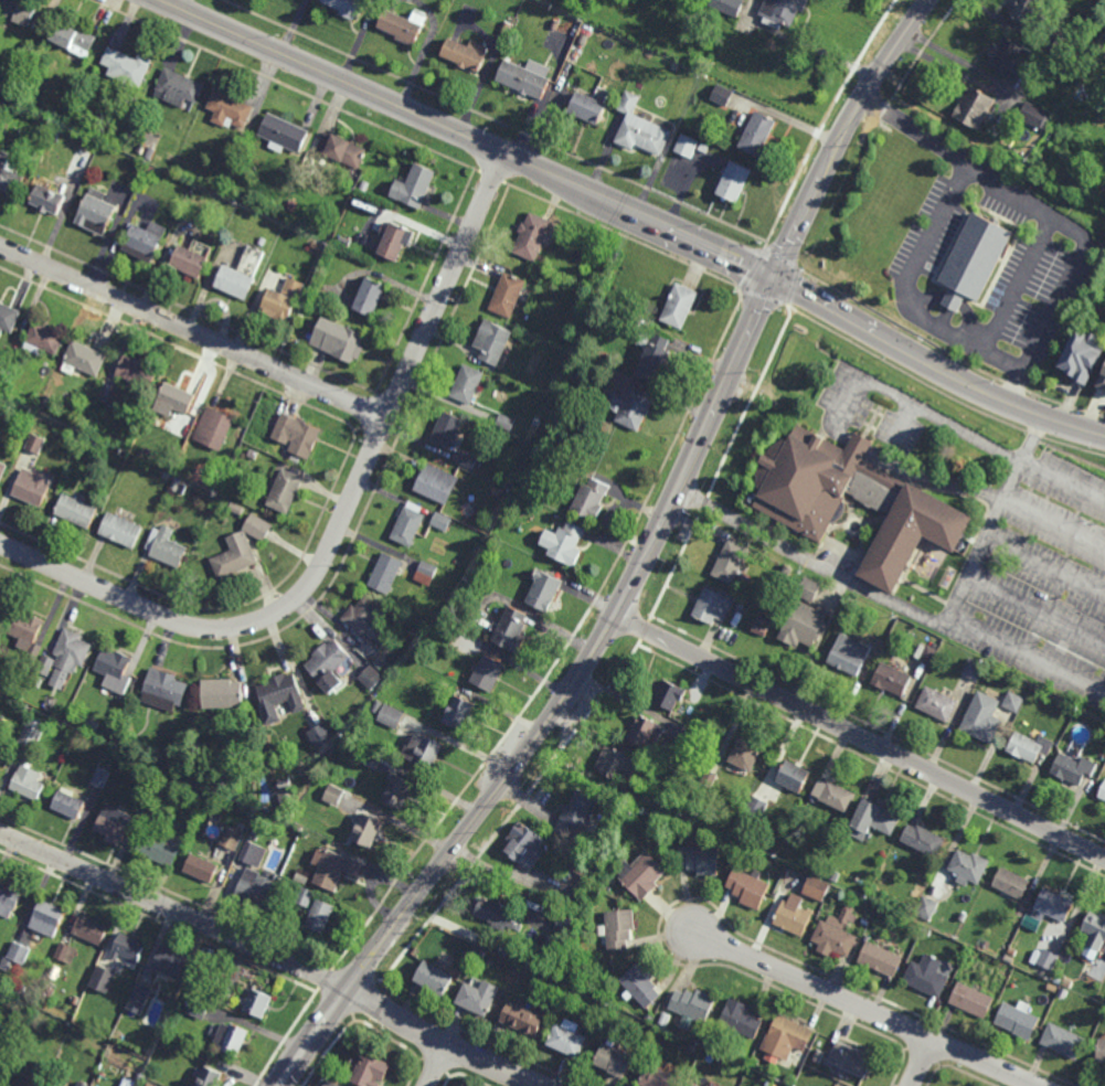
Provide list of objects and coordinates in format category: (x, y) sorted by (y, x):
building: (730, 6)
building: (348, 7)
building: (19, 11)
building: (784, 12)
building: (1030, 13)
building: (1095, 17)
building: (555, 24)
building: (403, 25)
building: (506, 28)
building: (74, 39)
building: (585, 40)
road: (894, 47)
building: (1063, 47)
building: (465, 54)
building: (1009, 57)
building: (126, 66)
building: (527, 78)
building: (178, 87)
road: (995, 87)
building: (13, 96)
building: (723, 96)
building: (975, 108)
building: (229, 109)
building: (588, 109)
building: (1034, 116)
building: (640, 126)
building: (283, 134)
building: (759, 135)
building: (691, 147)
building: (141, 149)
building: (340, 150)
building: (149, 156)
building: (295, 168)
building: (151, 169)
building: (10, 177)
building: (736, 183)
building: (363, 187)
building: (414, 187)
road: (585, 191)
building: (49, 200)
building: (290, 205)
building: (96, 212)
road: (1050, 215)
building: (532, 237)
building: (144, 241)
building: (262, 242)
building: (396, 243)
building: (316, 246)
building: (975, 260)
building: (189, 262)
building: (241, 275)
traffic signals: (774, 278)
road: (1018, 284)
road: (905, 289)
building: (314, 295)
building: (507, 296)
building: (371, 298)
road: (927, 299)
building: (283, 301)
road: (953, 302)
building: (680, 308)
building: (9, 319)
road: (970, 324)
road: (193, 332)
building: (45, 341)
building: (342, 343)
building: (491, 343)
building: (654, 356)
building: (1083, 356)
building: (86, 360)
building: (137, 374)
building: (1103, 382)
building: (466, 383)
building: (47, 398)
building: (173, 400)
building: (116, 402)
building: (631, 405)
road: (918, 407)
building: (26, 411)
building: (504, 420)
road: (1053, 420)
building: (214, 427)
building: (446, 429)
road: (838, 430)
building: (297, 434)
road: (1031, 440)
building: (35, 443)
building: (96, 444)
road: (859, 445)
building: (0, 449)
building: (536, 450)
building: (295, 459)
building: (465, 459)
building: (2, 469)
building: (164, 475)
road: (934, 479)
building: (436, 482)
road: (1062, 483)
building: (33, 486)
building: (180, 488)
building: (285, 490)
building: (591, 498)
building: (236, 508)
building: (797, 508)
building: (75, 511)
building: (442, 521)
building: (410, 523)
road: (1054, 523)
road: (339, 525)
building: (257, 526)
building: (119, 530)
building: (565, 542)
building: (164, 546)
building: (234, 561)
building: (731, 561)
road: (811, 561)
road: (1045, 567)
building: (386, 573)
building: (426, 573)
building: (489, 584)
building: (743, 584)
building: (810, 589)
building: (544, 590)
building: (0, 604)
building: (713, 605)
road: (1037, 608)
building: (362, 615)
building: (763, 616)
road: (949, 618)
road: (617, 620)
building: (806, 624)
building: (24, 629)
building: (512, 629)
building: (72, 647)
building: (371, 647)
building: (925, 653)
building: (848, 654)
building: (25, 661)
building: (380, 663)
building: (328, 664)
building: (44, 666)
building: (973, 669)
building: (115, 671)
building: (489, 672)
building: (371, 678)
building: (891, 679)
building: (163, 690)
building: (221, 694)
building: (670, 695)
building: (278, 696)
building: (1013, 702)
building: (936, 704)
building: (379, 706)
building: (141, 711)
building: (459, 712)
building: (391, 716)
building: (89, 725)
building: (982, 725)
building: (31, 733)
building: (647, 733)
building: (320, 736)
building: (690, 736)
building: (151, 738)
road: (862, 738)
building: (1029, 747)
building: (424, 750)
building: (0, 753)
building: (747, 753)
building: (371, 759)
building: (617, 763)
building: (1073, 769)
building: (100, 777)
building: (794, 777)
building: (26, 781)
building: (284, 784)
building: (221, 786)
building: (399, 791)
building: (1102, 794)
building: (332, 795)
building: (832, 795)
building: (284, 799)
building: (68, 806)
building: (757, 807)
building: (578, 813)
building: (872, 820)
building: (114, 824)
building: (241, 827)
building: (368, 830)
building: (785, 833)
building: (252, 837)
building: (618, 838)
building: (794, 838)
building: (230, 839)
building: (923, 840)
building: (525, 847)
building: (160, 848)
building: (200, 853)
building: (255, 855)
building: (701, 860)
building: (818, 864)
building: (585, 865)
building: (968, 867)
building: (200, 869)
building: (333, 869)
building: (816, 873)
building: (642, 875)
building: (833, 876)
building: (301, 879)
building: (1011, 884)
building: (750, 888)
building: (816, 890)
building: (254, 892)
building: (305, 897)
building: (9, 899)
building: (1054, 905)
building: (926, 907)
building: (907, 908)
building: (1020, 912)
building: (497, 914)
building: (794, 916)
building: (319, 917)
building: (964, 917)
building: (49, 918)
building: (864, 923)
building: (570, 924)
building: (91, 930)
building: (619, 930)
building: (925, 931)
building: (1094, 934)
building: (835, 935)
building: (561, 937)
building: (129, 948)
building: (504, 951)
building: (67, 952)
road: (270, 954)
building: (479, 954)
building: (15, 956)
building: (880, 959)
building: (1048, 959)
building: (169, 962)
building: (1058, 965)
building: (926, 977)
building: (103, 979)
building: (436, 980)
building: (641, 987)
building: (22, 990)
building: (139, 999)
building: (480, 999)
building: (971, 1000)
building: (257, 1005)
building: (694, 1007)
building: (198, 1008)
road: (867, 1008)
building: (549, 1011)
building: (650, 1019)
building: (742, 1020)
building: (1018, 1020)
building: (523, 1021)
building: (94, 1024)
building: (231, 1040)
building: (786, 1040)
building: (1063, 1041)
building: (569, 1042)
building: (1101, 1051)
building: (4, 1057)
building: (817, 1057)
building: (850, 1060)
building: (615, 1062)
building: (756, 1062)
road: (921, 1062)
road: (437, 1065)
building: (370, 1072)
building: (210, 1078)
building: (343, 1078)
building: (659, 1078)
building: (81, 1084)
building: (329, 1084)
building: (2, 1085)
building: (6, 1085)
building: (149, 1085)
building: (693, 1085)
building: (695, 1085)
building: (835, 1085)
building: (837, 1085)

